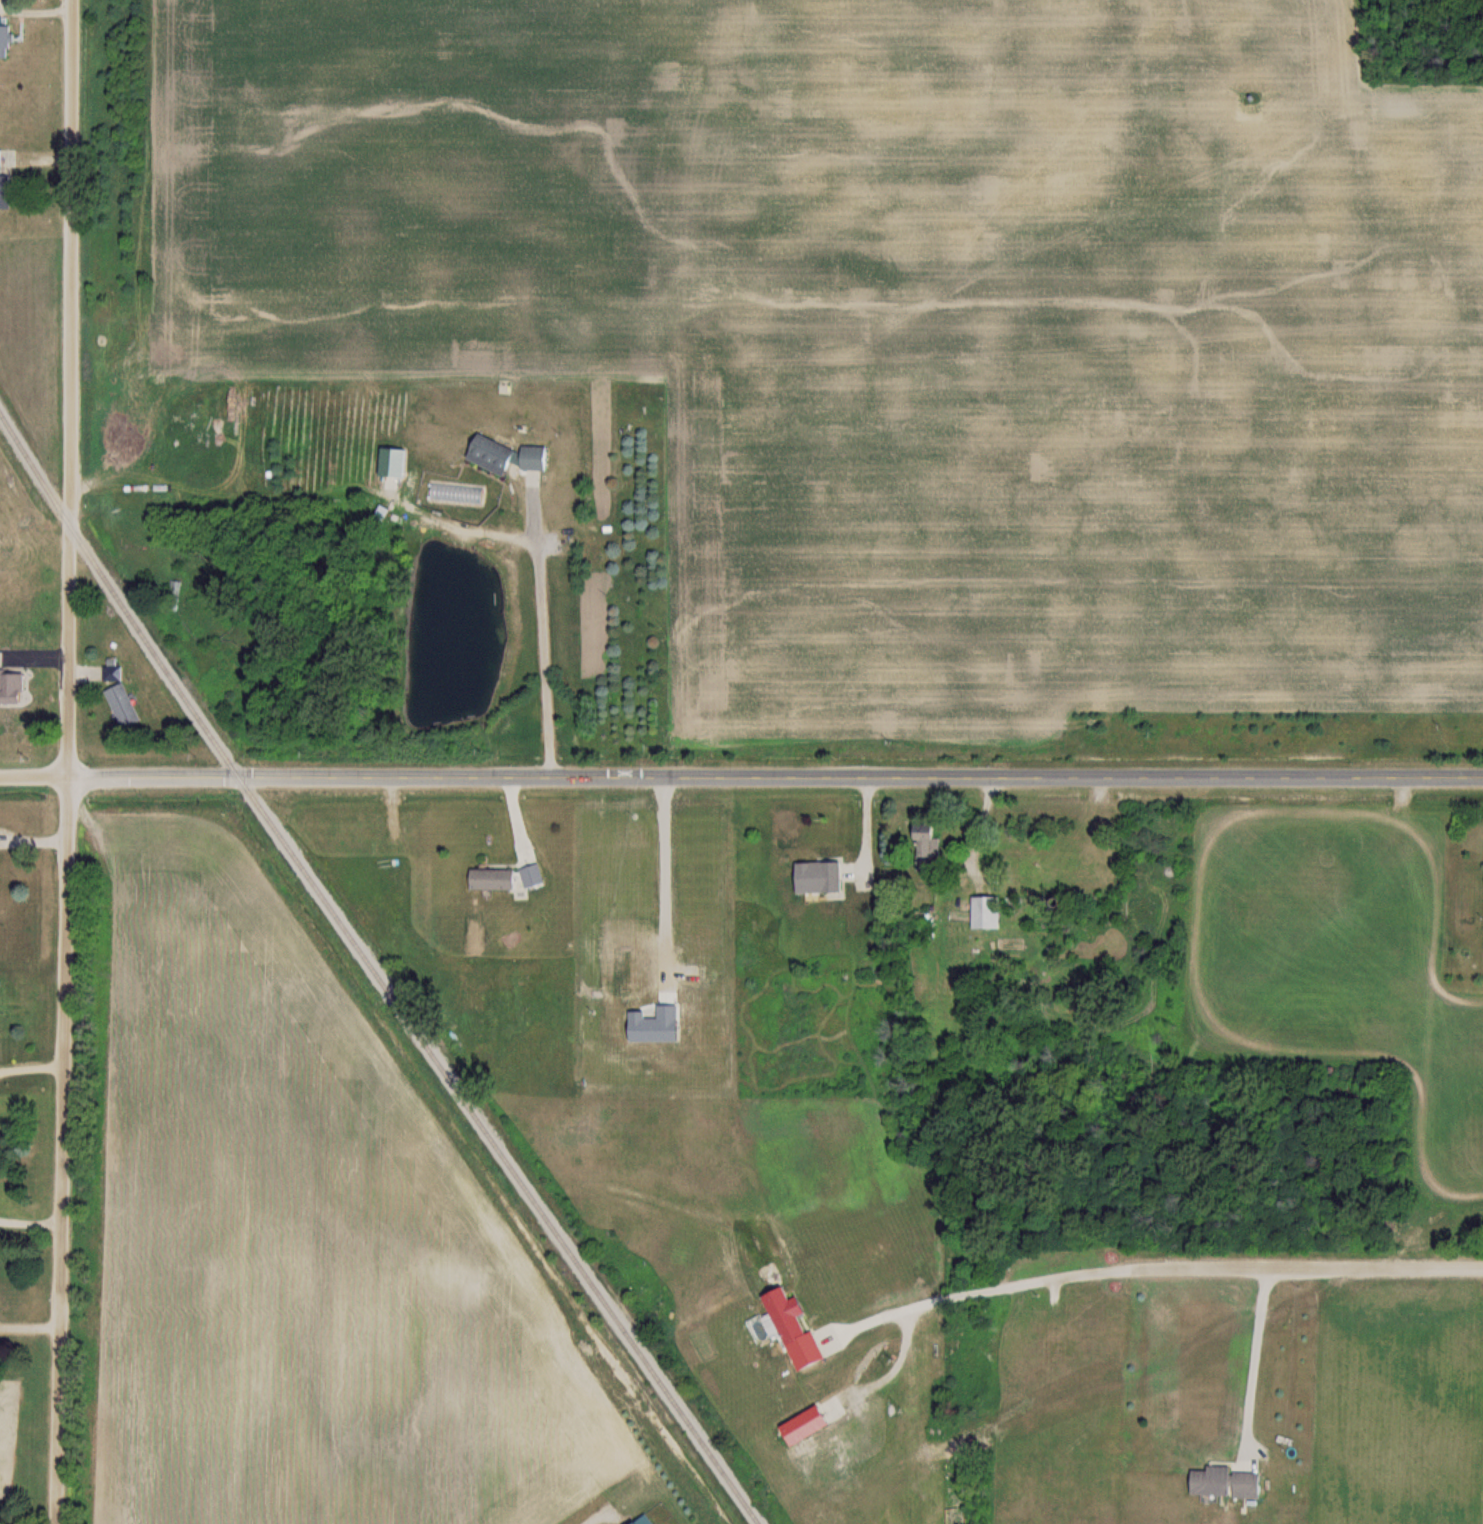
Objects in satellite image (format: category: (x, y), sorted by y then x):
building: (6, 38)
building: (6, 179)
building: (498, 454)
building: (540, 459)
railway: (49, 481)
building: (12, 539)
road: (541, 628)
building: (0, 658)
building: (114, 671)
building: (11, 688)
building: (126, 705)
road: (71, 762)
road: (741, 777)
building: (922, 840)
building: (812, 877)
building: (497, 880)
road: (662, 883)
building: (983, 911)
railway: (425, 1045)
road: (33, 1068)
road: (1309, 1267)
road: (985, 1289)
road: (32, 1328)
road: (1256, 1359)
building: (1221, 1482)
road: (595, 1519)

